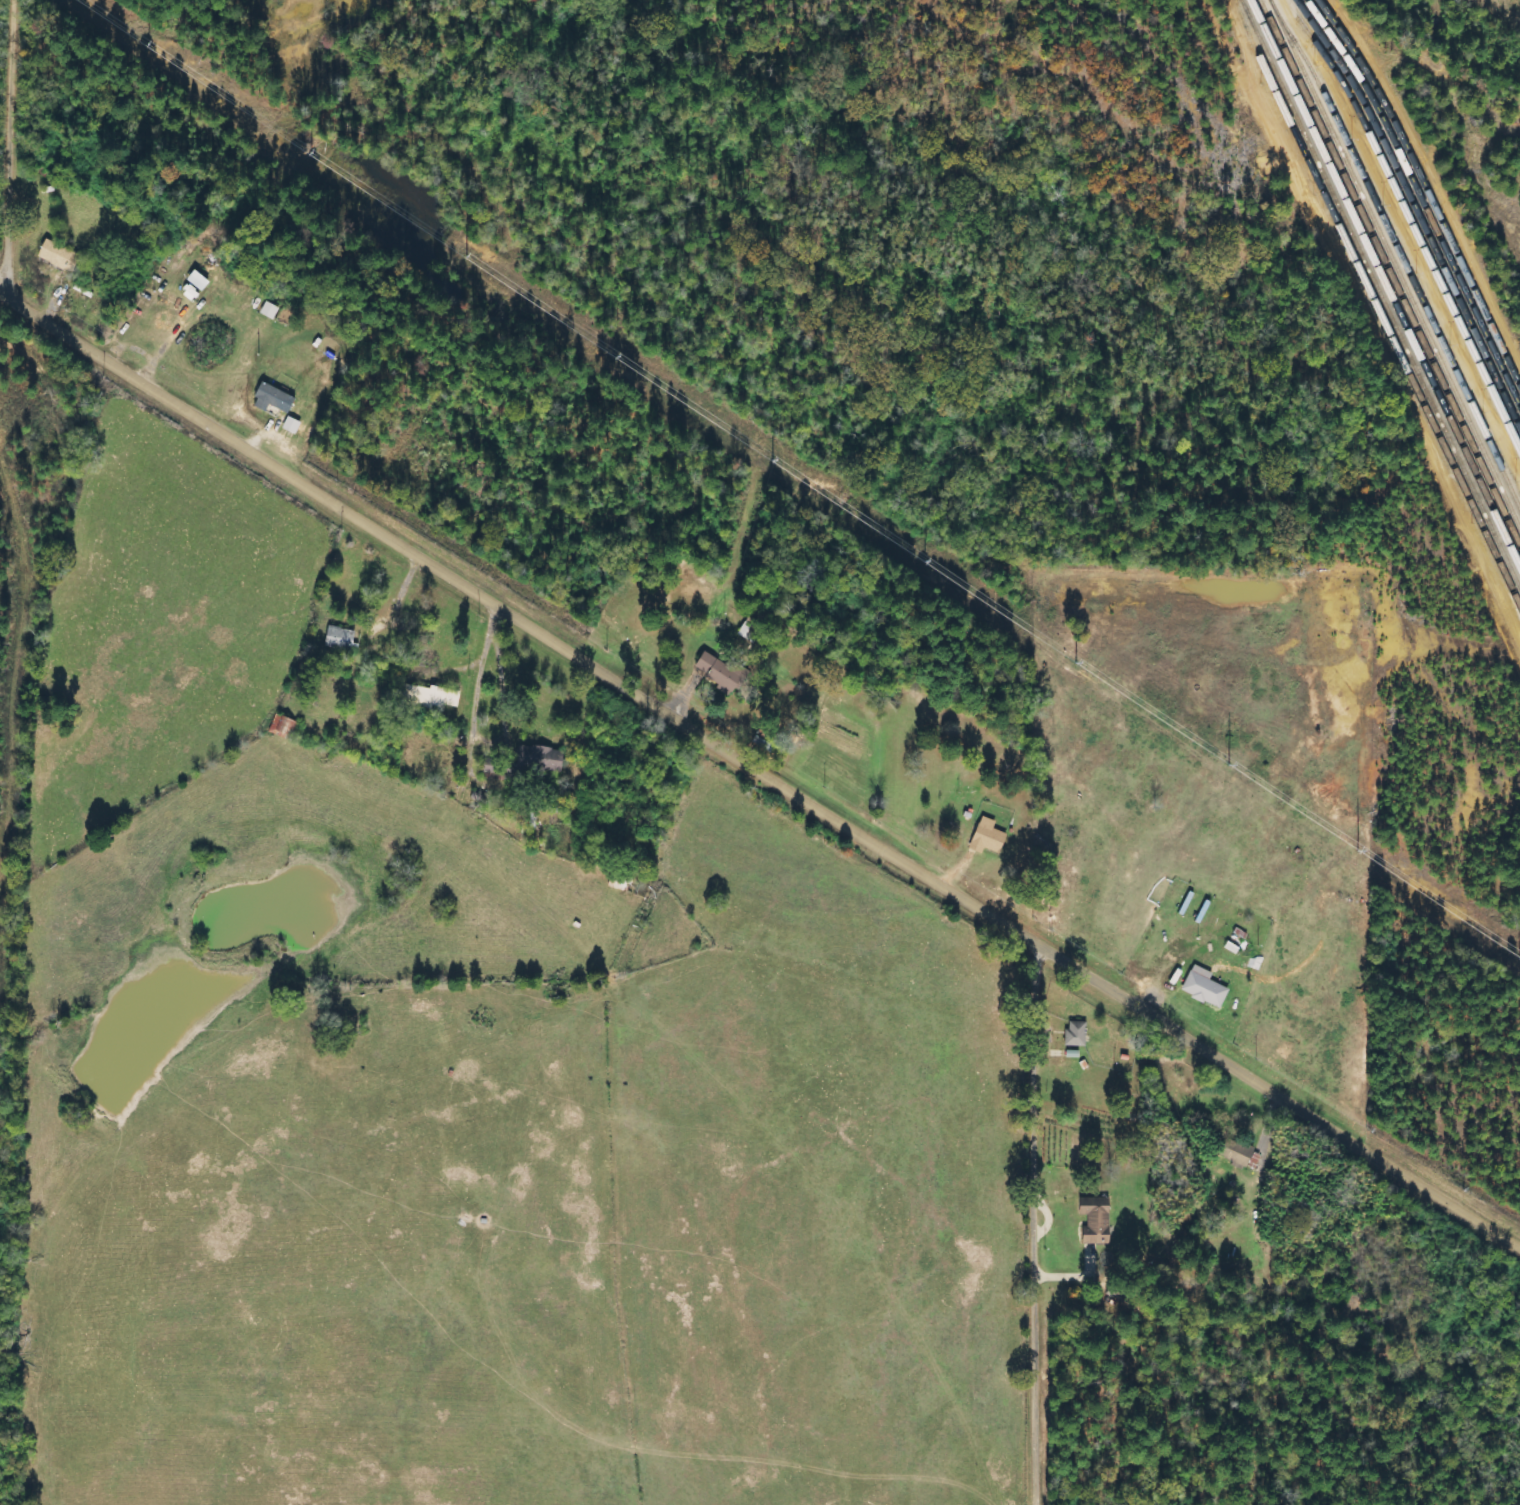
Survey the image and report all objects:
road: (16, 151)
railway: (1424, 193)
railway: (1419, 201)
railway: (1415, 210)
railway: (1411, 220)
railway: (1397, 254)
building: (56, 255)
railway: (1393, 265)
railway: (1389, 275)
railway: (1384, 283)
railway: (1380, 294)
railway: (1375, 305)
building: (268, 310)
building: (271, 398)
building: (704, 661)
building: (726, 674)
building: (282, 727)
building: (537, 759)
road: (760, 770)
building: (986, 836)
building: (1235, 940)
building: (1203, 987)
building: (1075, 1034)
building: (1235, 1151)
building: (1094, 1223)
road: (1041, 1227)

